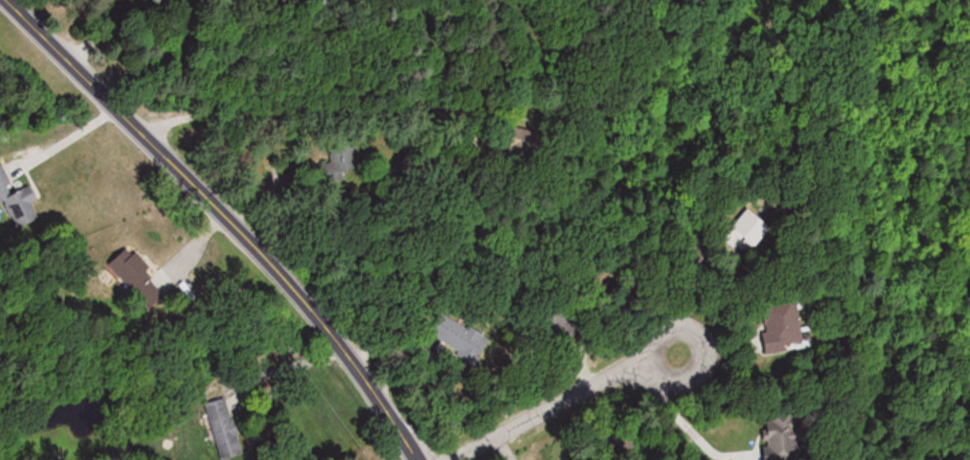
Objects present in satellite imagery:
road: (115, 27)
road: (65, 139)
building: (16, 203)
road: (220, 216)
building: (140, 276)
building: (781, 327)
road: (239, 379)
road: (581, 396)
road: (688, 422)
building: (223, 428)
building: (782, 438)

